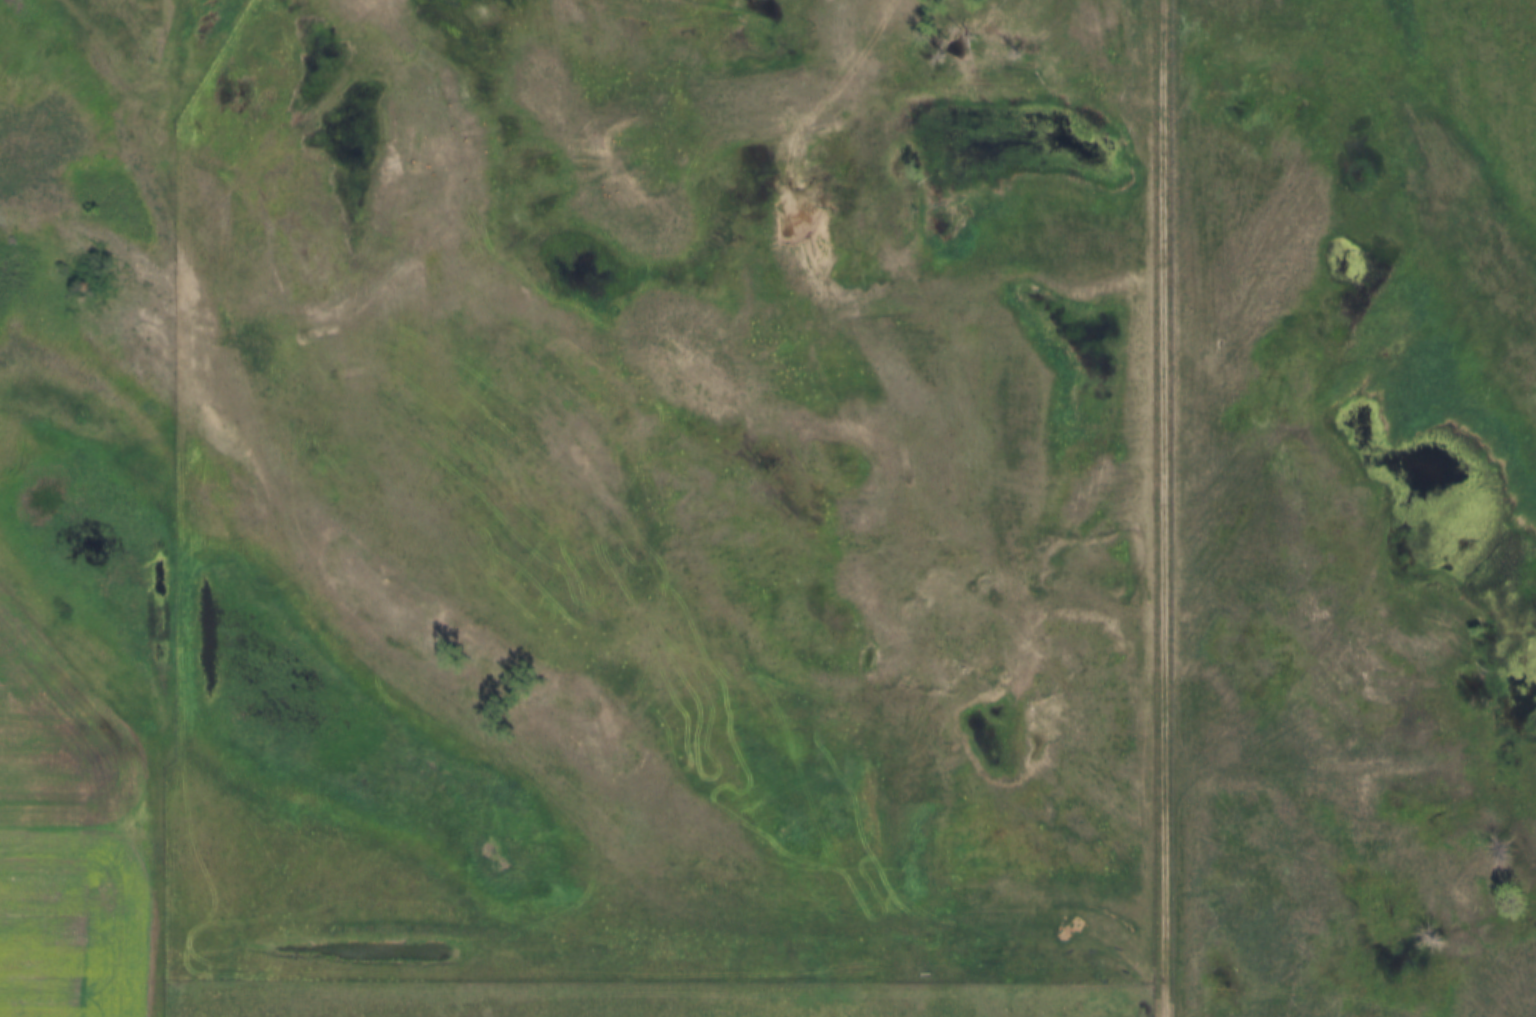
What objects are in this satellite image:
road: (1167, 508)

